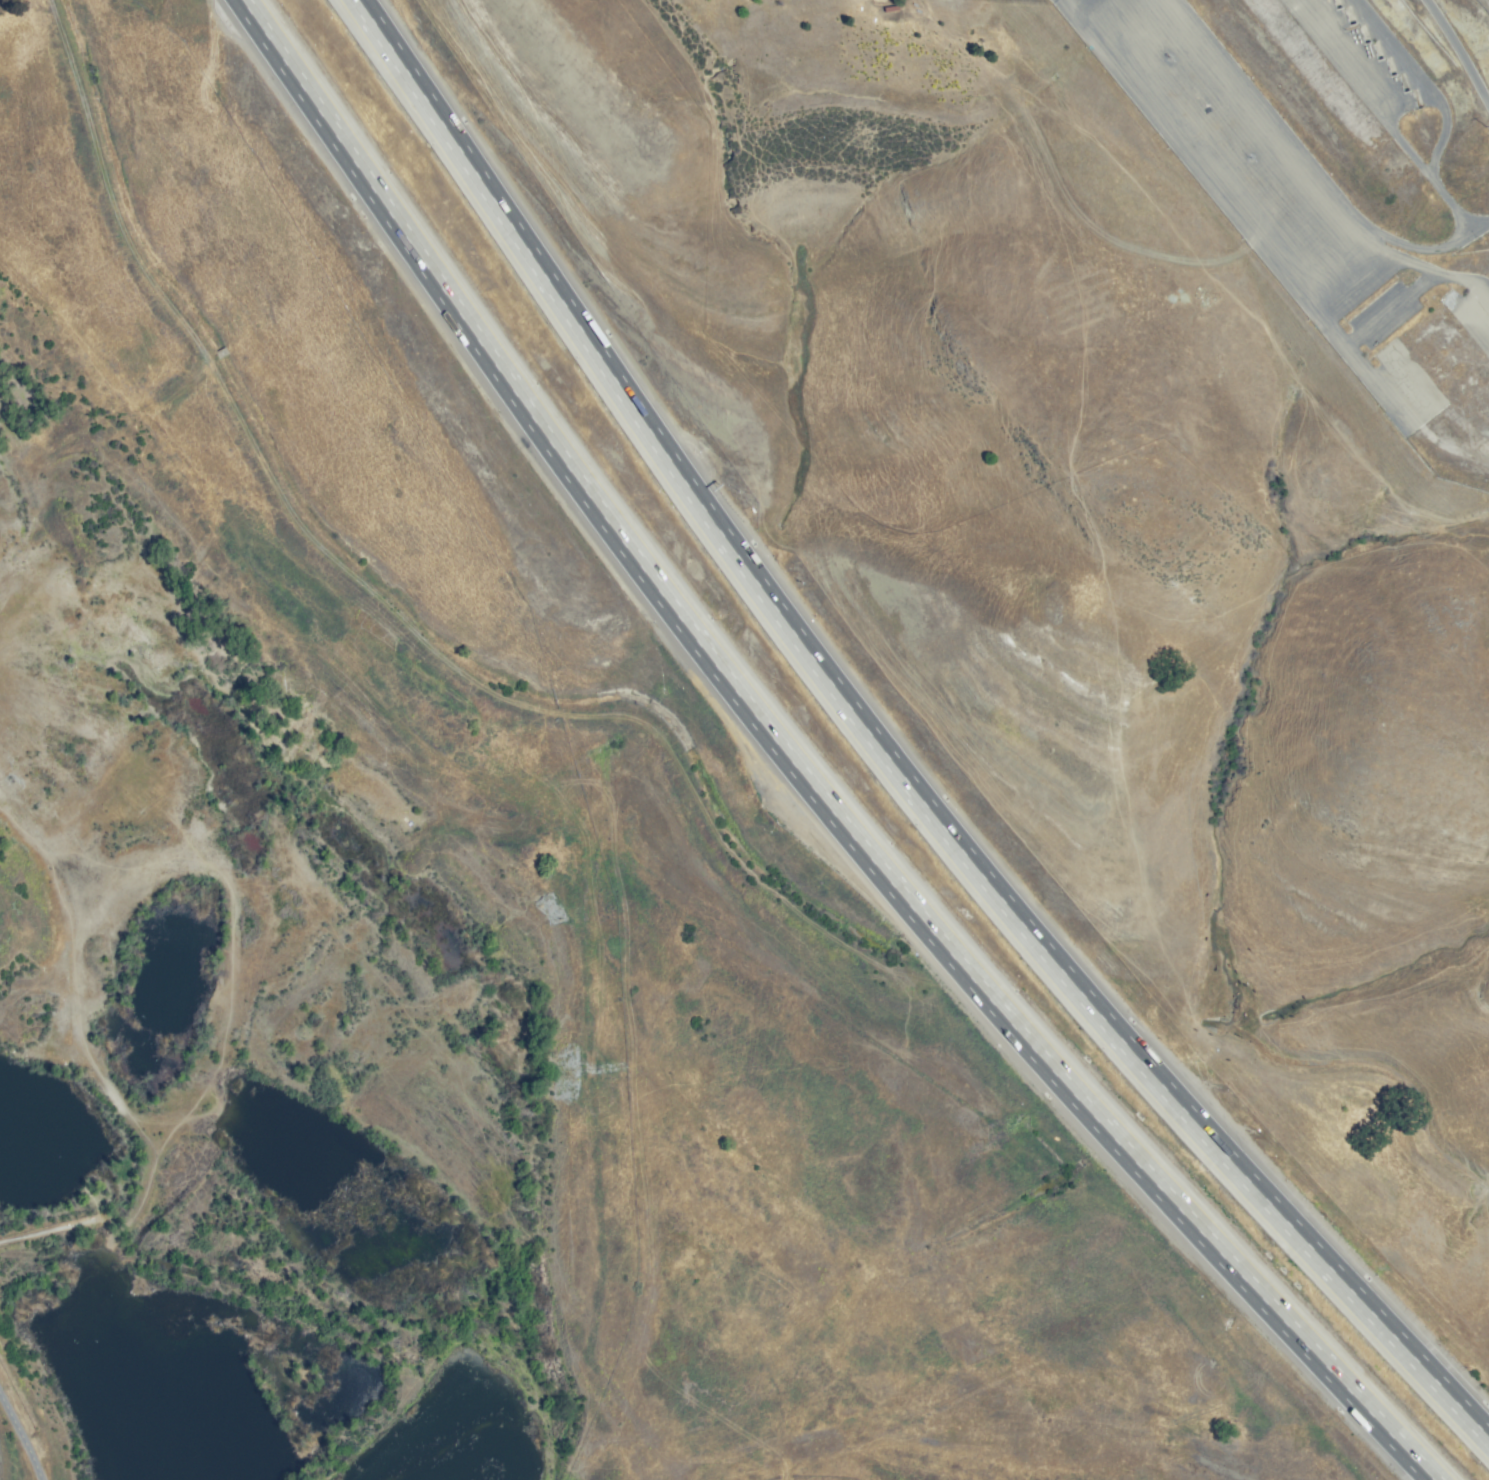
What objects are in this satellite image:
road: (1458, 49)
road: (1447, 118)
road: (1416, 244)
road: (1326, 311)
road: (364, 586)
road: (881, 752)
road: (797, 771)
road: (48, 1233)
park: (1052, 1359)
road: (23, 1435)

